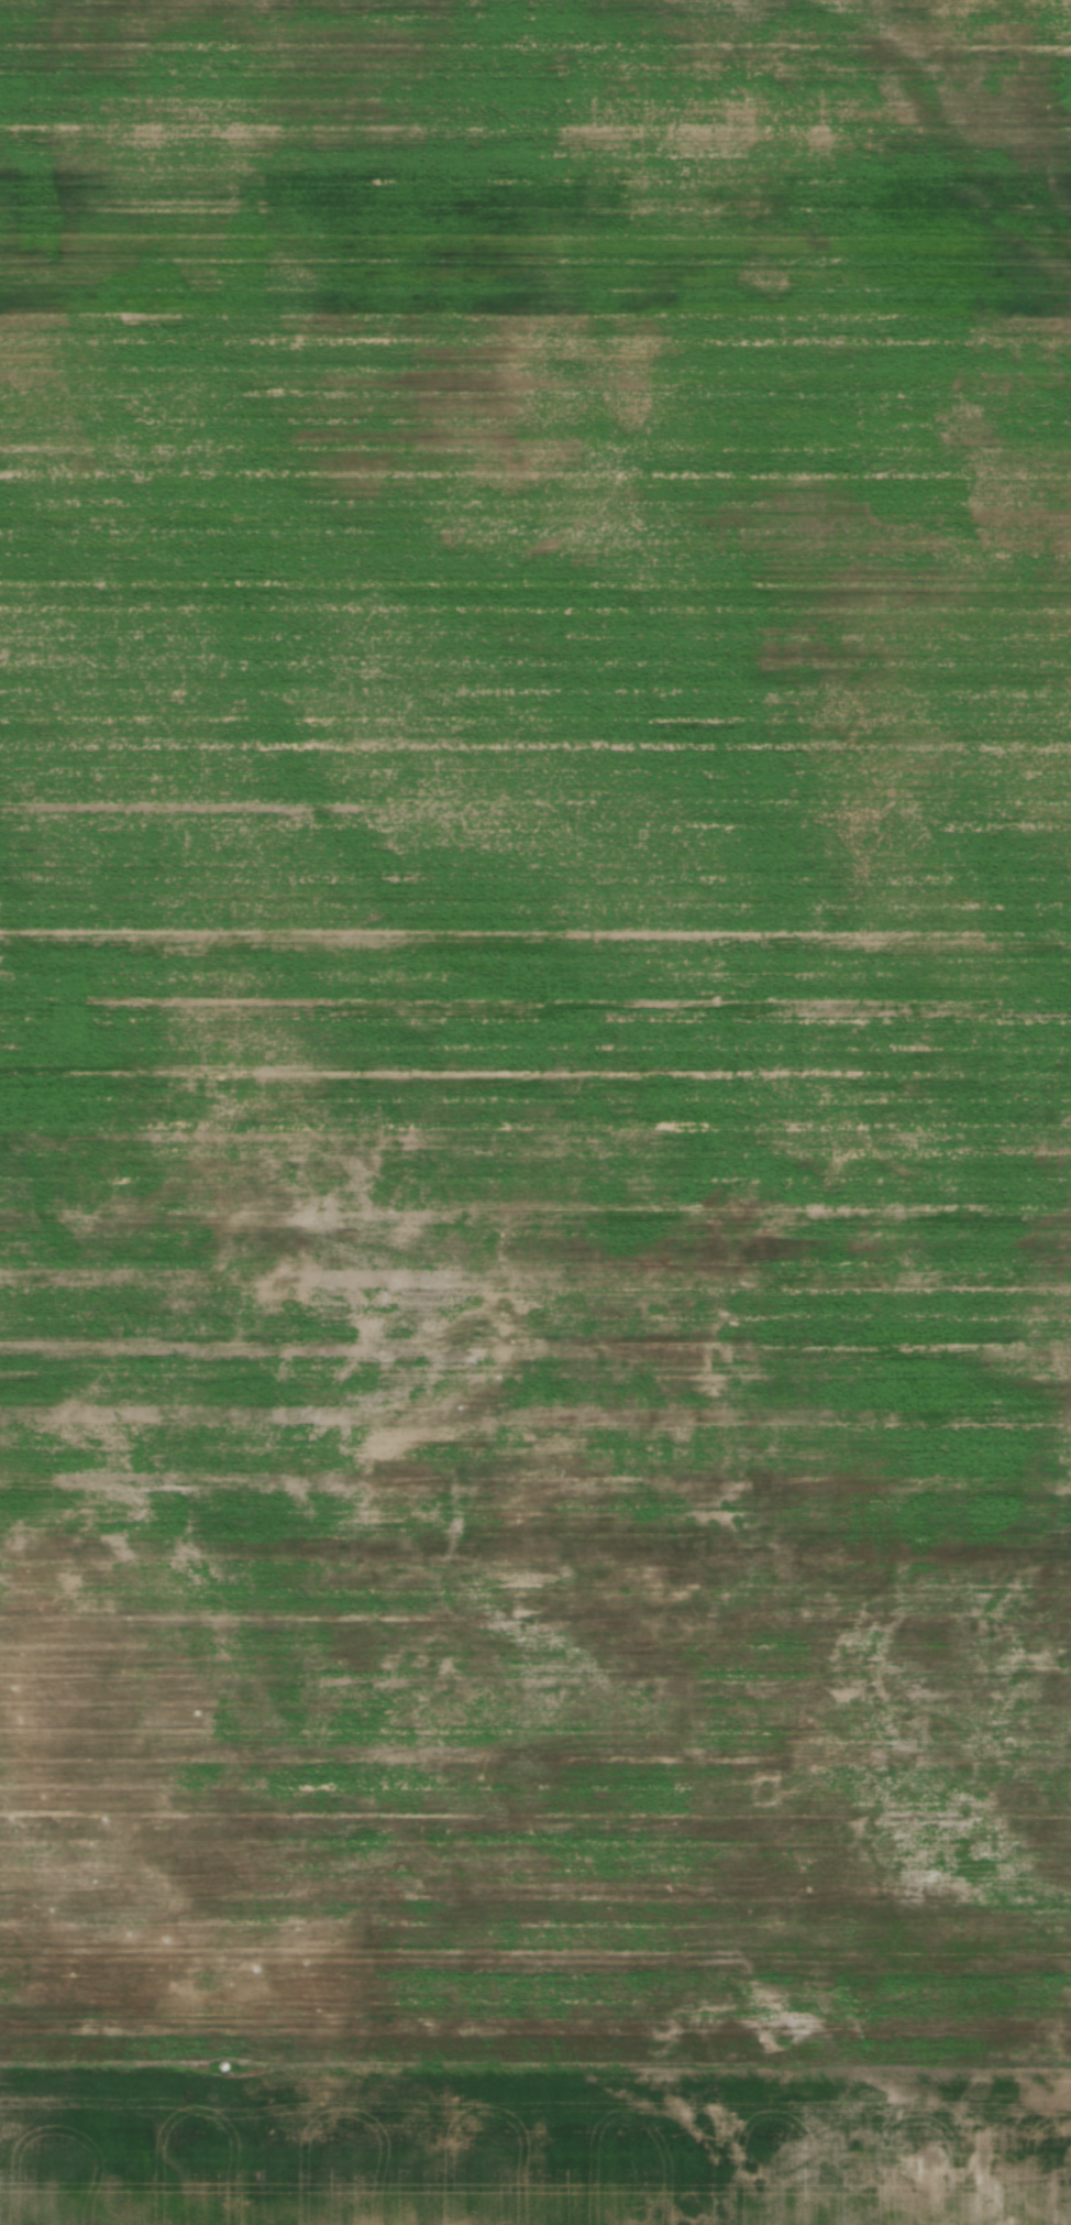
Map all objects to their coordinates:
road: (534, 2069)

